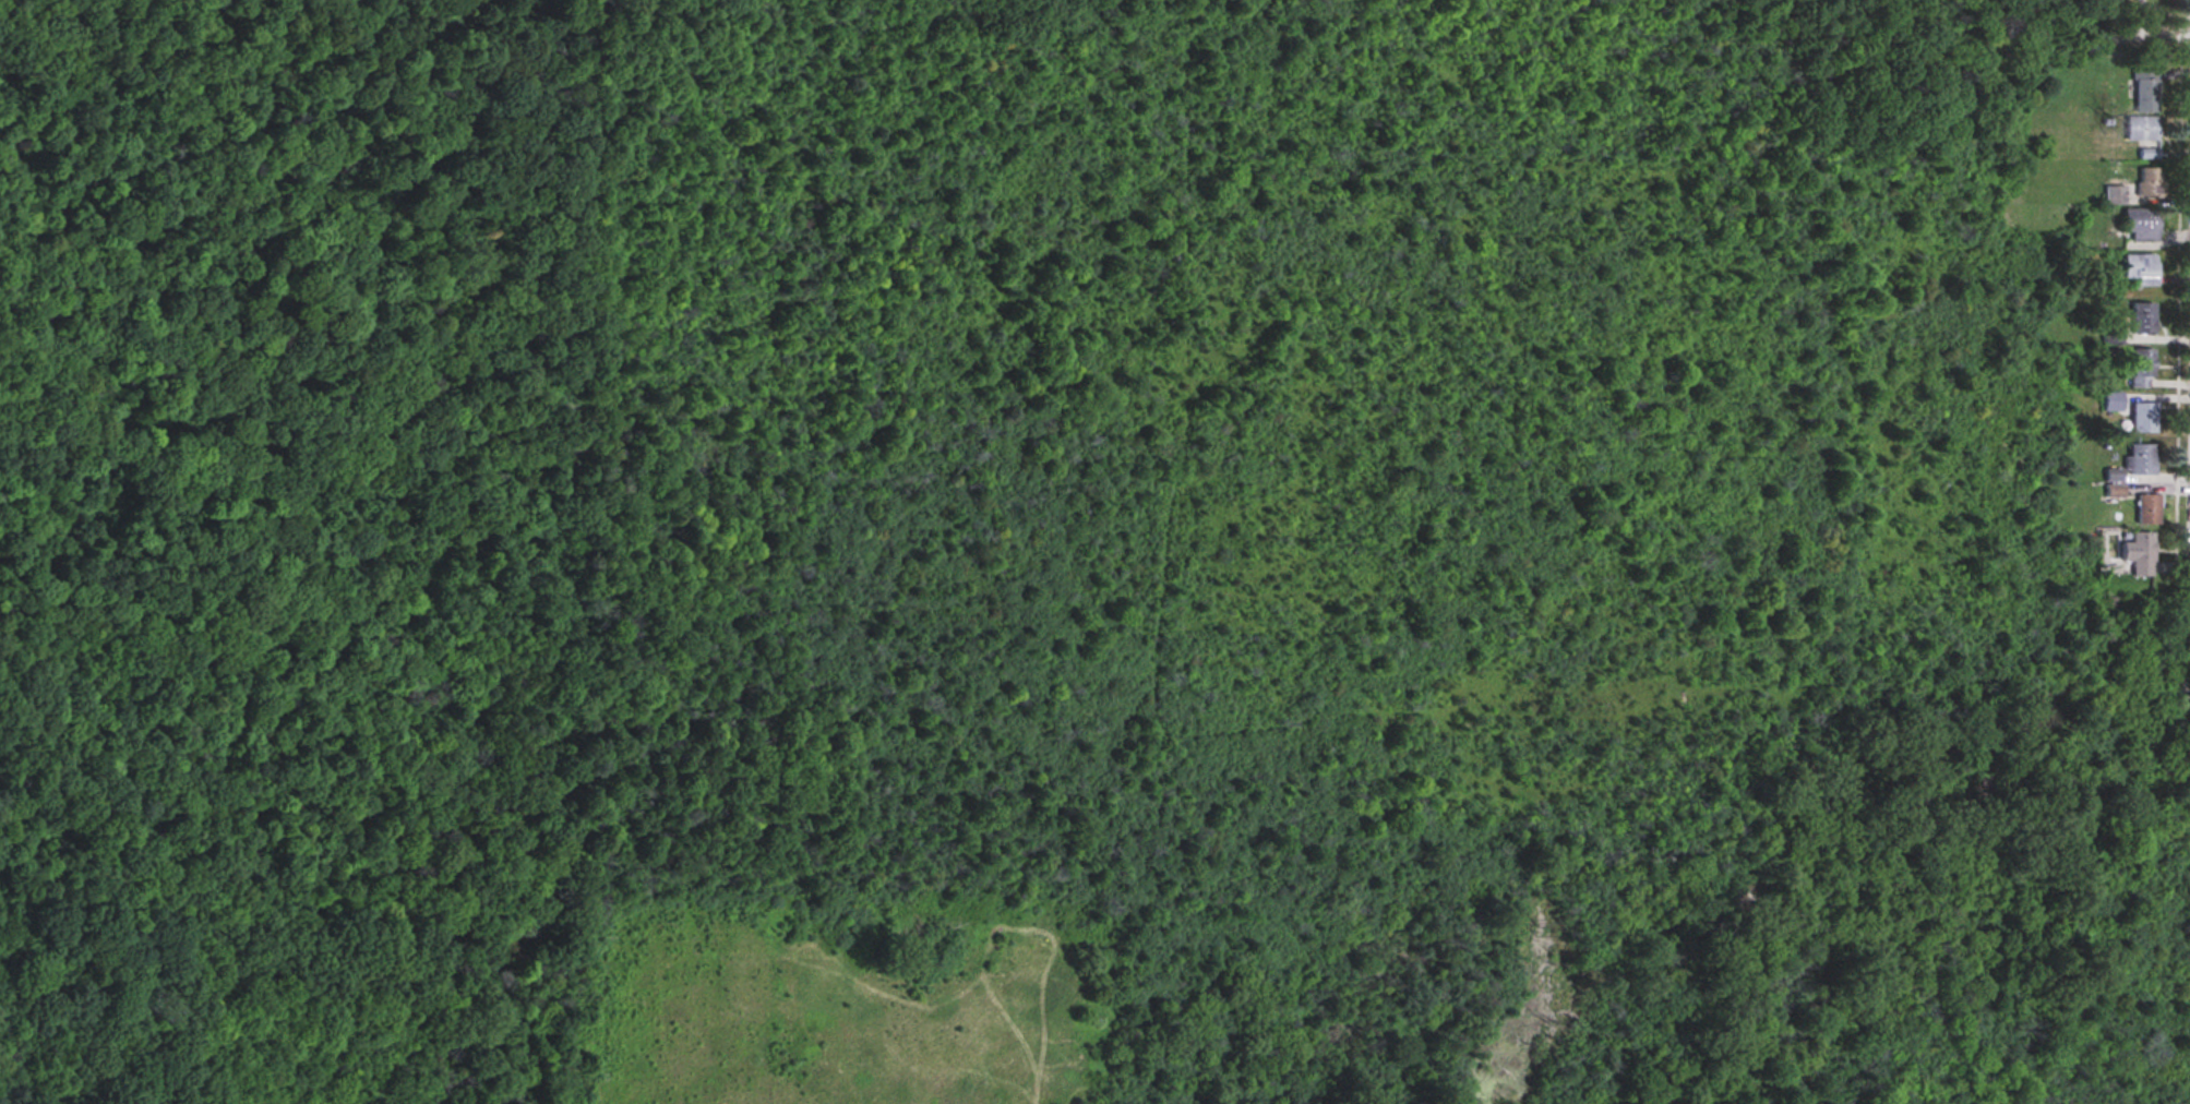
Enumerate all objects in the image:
road: (2134, 39)
building: (2145, 91)
building: (2141, 129)
building: (2147, 154)
building: (2150, 182)
building: (2140, 225)
building: (2141, 269)
building: (2142, 319)
building: (2140, 369)
building: (2141, 419)
building: (2139, 459)
building: (2145, 509)
building: (2137, 553)

